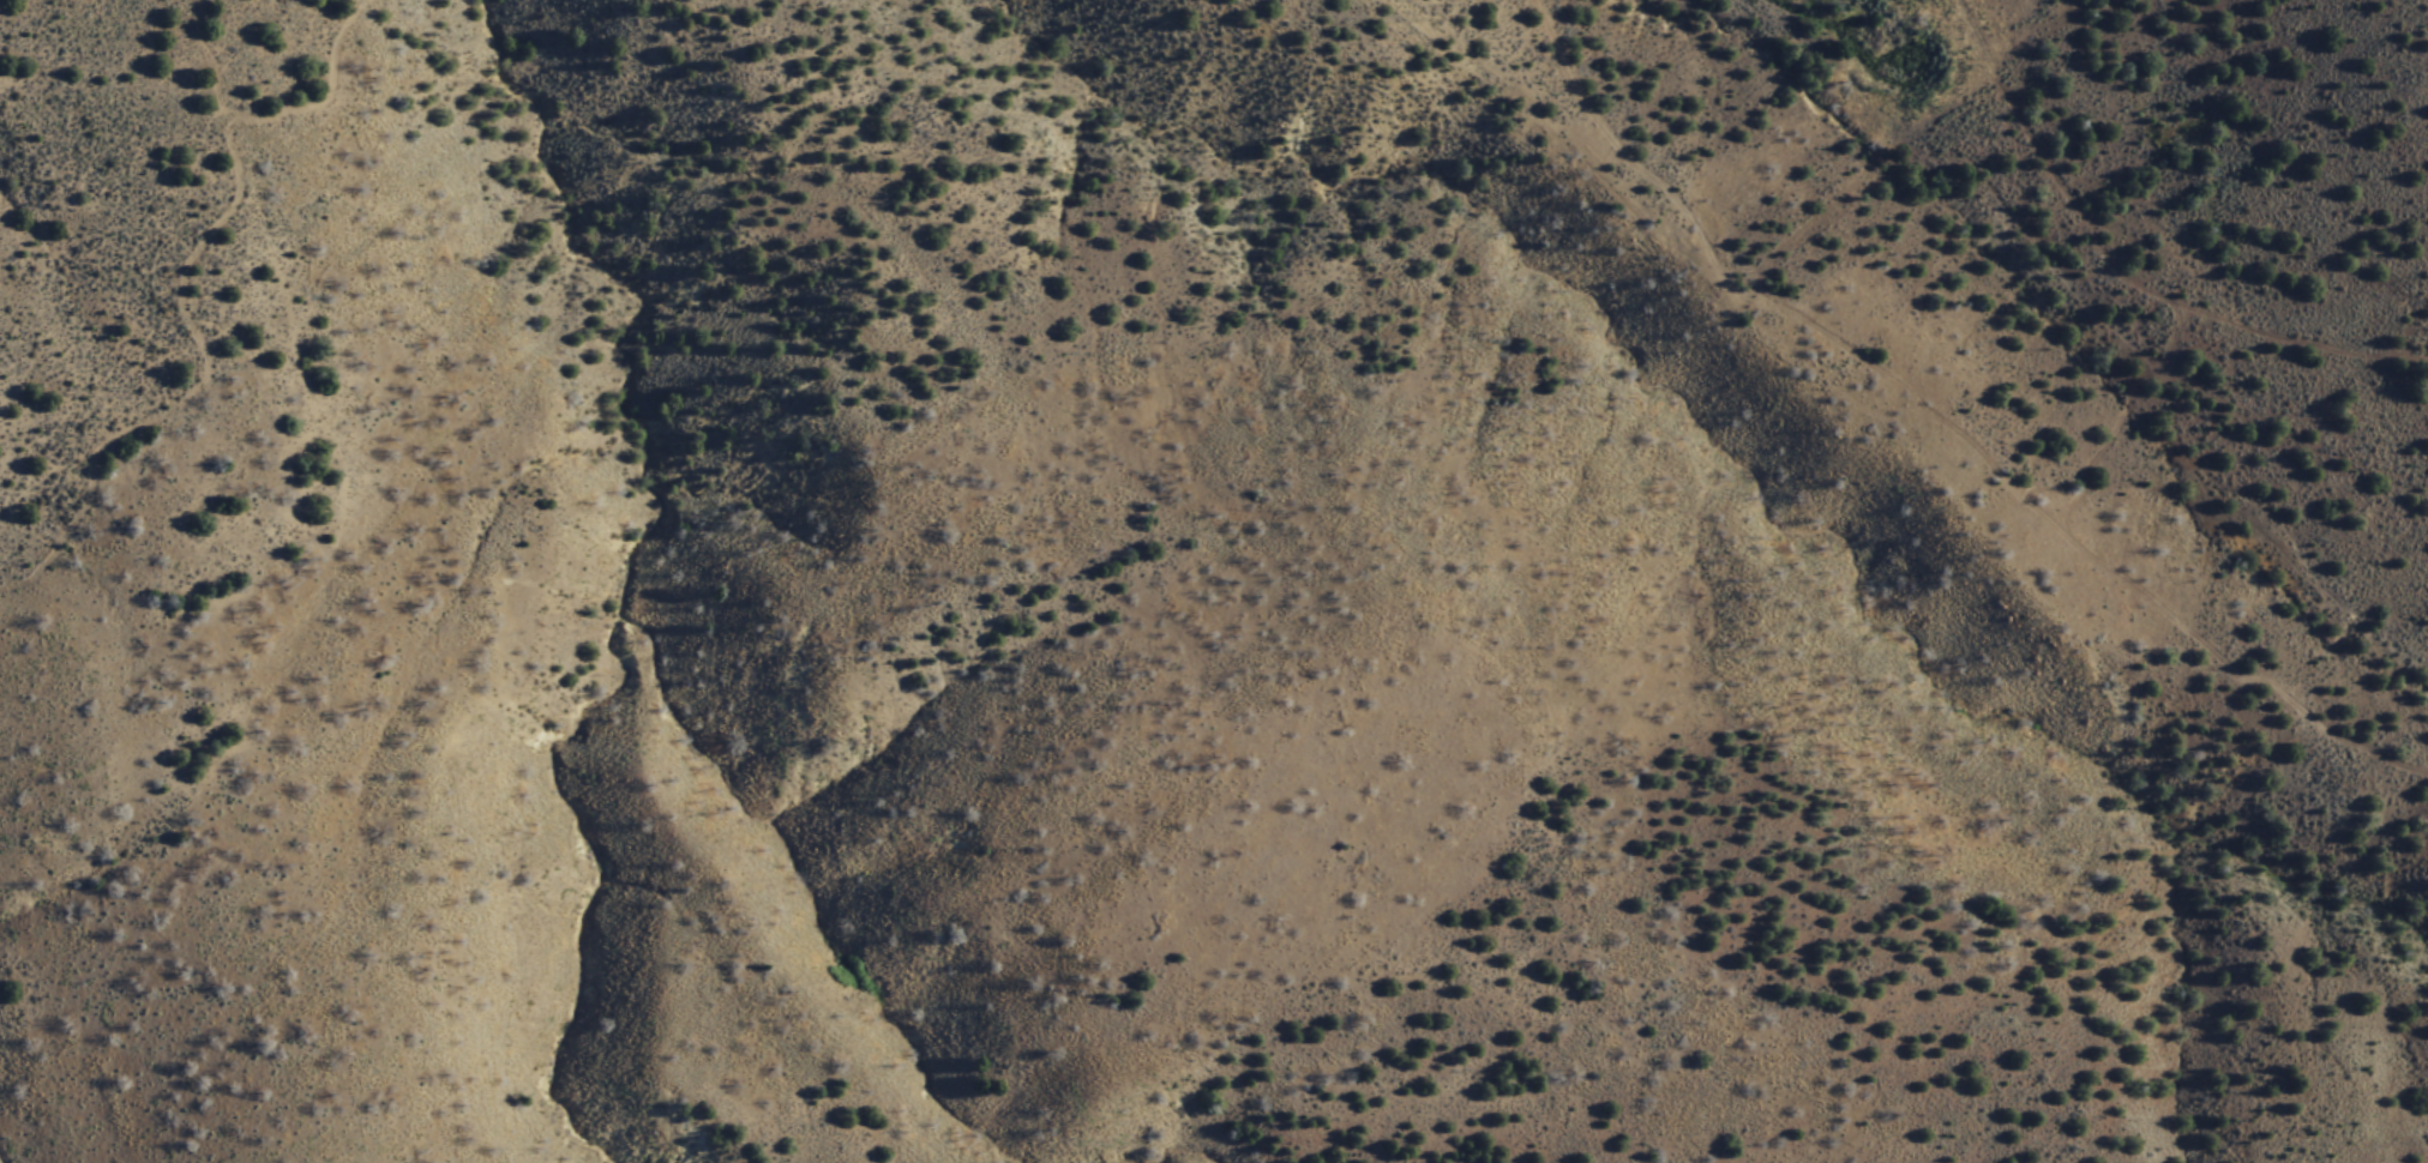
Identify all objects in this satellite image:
river: (1803, 8)
road: (1959, 409)

